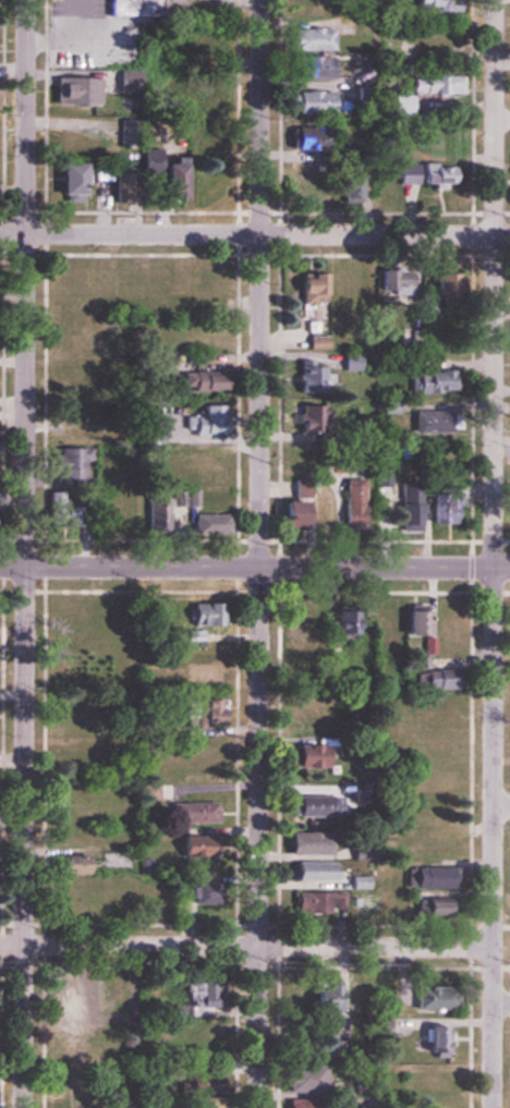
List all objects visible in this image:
building: (430, 5)
building: (133, 8)
building: (307, 9)
building: (309, 38)
building: (313, 68)
building: (430, 83)
building: (72, 88)
building: (203, 96)
building: (311, 101)
building: (76, 137)
building: (308, 138)
building: (425, 173)
building: (159, 174)
building: (65, 180)
building: (349, 183)
building: (301, 184)
building: (199, 188)
road: (255, 234)
building: (71, 275)
building: (151, 278)
building: (120, 280)
building: (394, 281)
building: (343, 283)
building: (447, 283)
building: (308, 288)
building: (70, 301)
building: (81, 336)
building: (196, 340)
building: (307, 377)
building: (202, 379)
building: (430, 380)
building: (75, 409)
building: (311, 416)
building: (204, 421)
building: (73, 435)
building: (297, 454)
building: (202, 459)
building: (66, 462)
building: (439, 463)
building: (382, 477)
building: (299, 487)
building: (350, 501)
building: (444, 507)
building: (56, 508)
building: (286, 511)
building: (317, 512)
building: (405, 512)
building: (117, 513)
building: (159, 513)
building: (208, 522)
road: (24, 553)
road: (258, 553)
road: (493, 553)
road: (255, 567)
building: (162, 612)
building: (202, 613)
building: (294, 619)
building: (343, 619)
building: (69, 620)
building: (411, 620)
building: (441, 621)
building: (386, 625)
building: (314, 649)
building: (202, 672)
building: (68, 675)
building: (148, 675)
building: (437, 679)
building: (199, 710)
building: (70, 715)
building: (429, 715)
building: (305, 716)
building: (435, 751)
building: (70, 754)
building: (302, 755)
building: (433, 779)
building: (74, 792)
building: (311, 805)
building: (191, 812)
building: (81, 816)
building: (66, 838)
building: (125, 841)
building: (305, 842)
building: (187, 847)
building: (70, 864)
building: (311, 870)
building: (428, 877)
building: (96, 887)
building: (196, 899)
building: (159, 900)
building: (318, 901)
building: (377, 903)
building: (430, 906)
road: (245, 946)
building: (111, 989)
building: (199, 990)
building: (356, 993)
building: (317, 996)
building: (429, 997)
building: (66, 1000)
road: (500, 1002)
building: (315, 1039)
building: (435, 1040)
building: (66, 1043)
building: (205, 1048)
building: (305, 1077)
building: (435, 1080)
building: (62, 1082)
building: (201, 1089)
building: (69, 1104)
building: (302, 1104)
building: (436, 1104)

